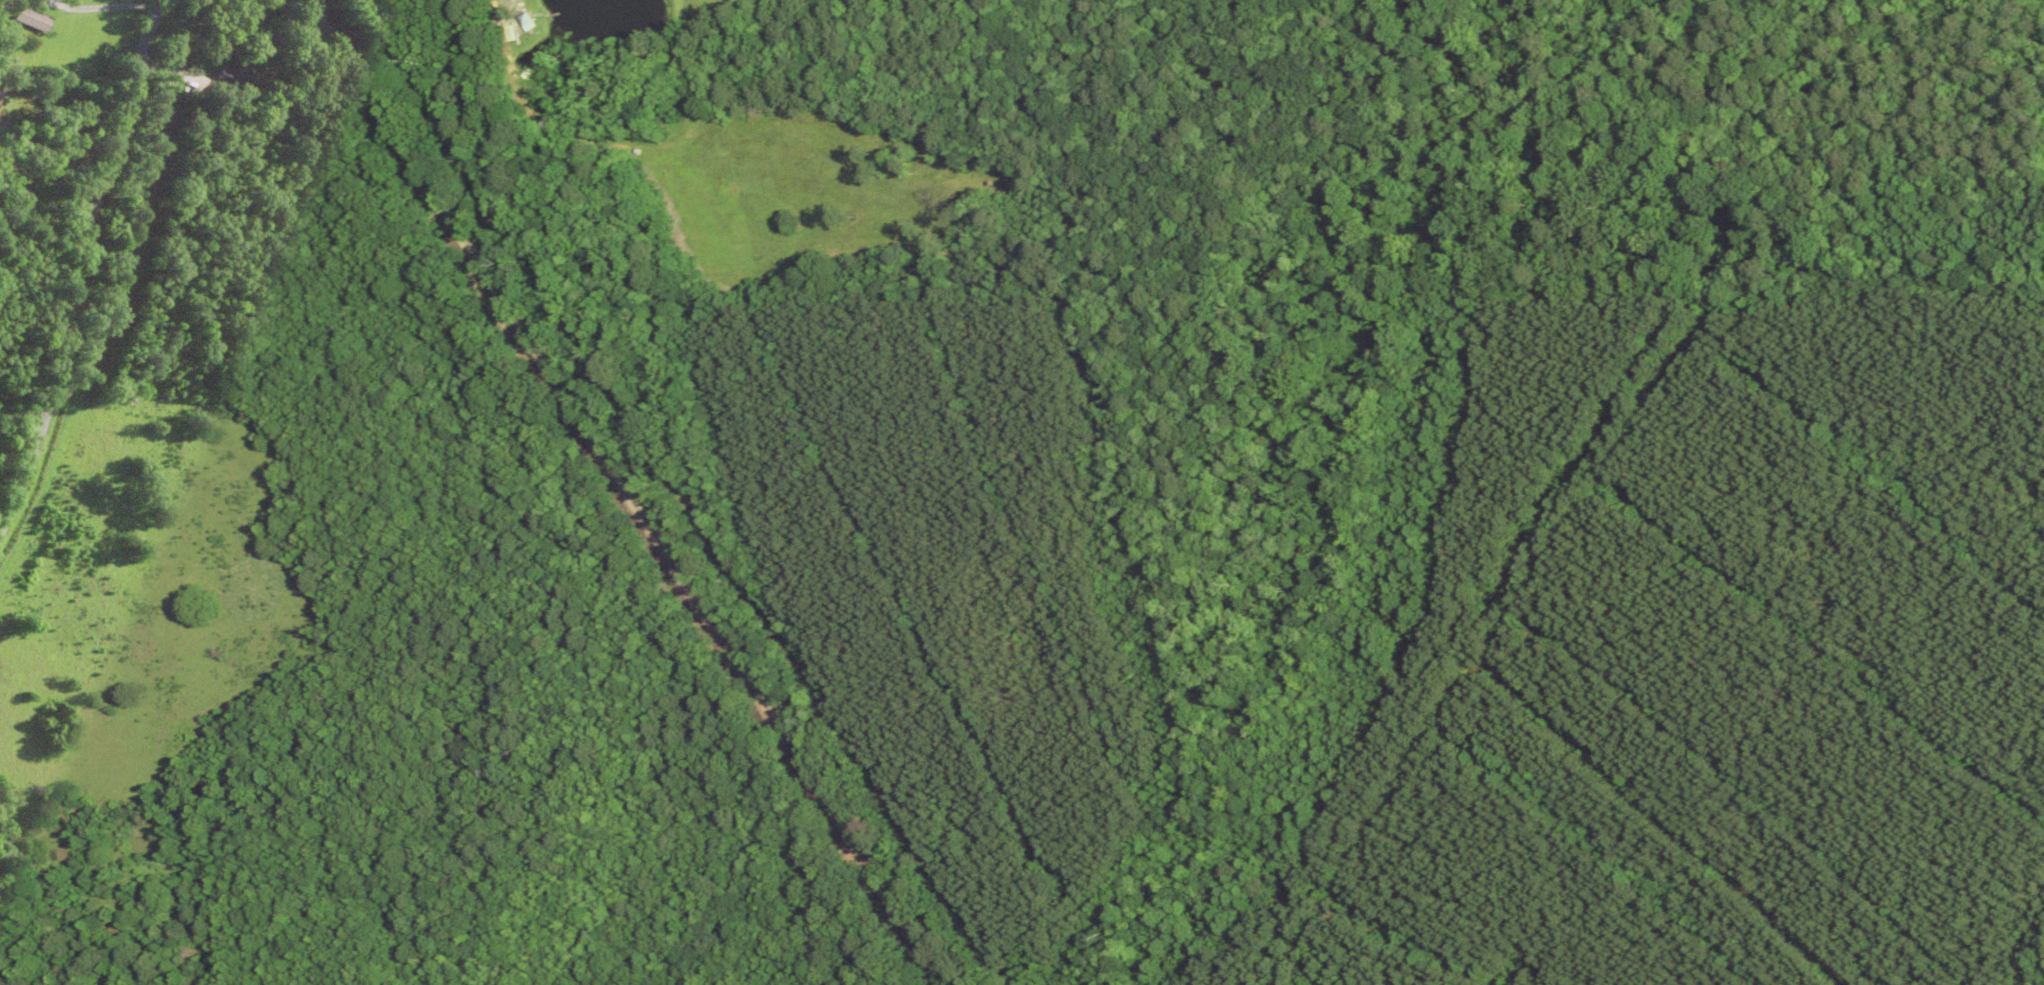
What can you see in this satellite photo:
building: (31, 20)
building: (529, 23)
building: (234, 75)
building: (1, 95)
road: (83, 248)
railway: (622, 494)

